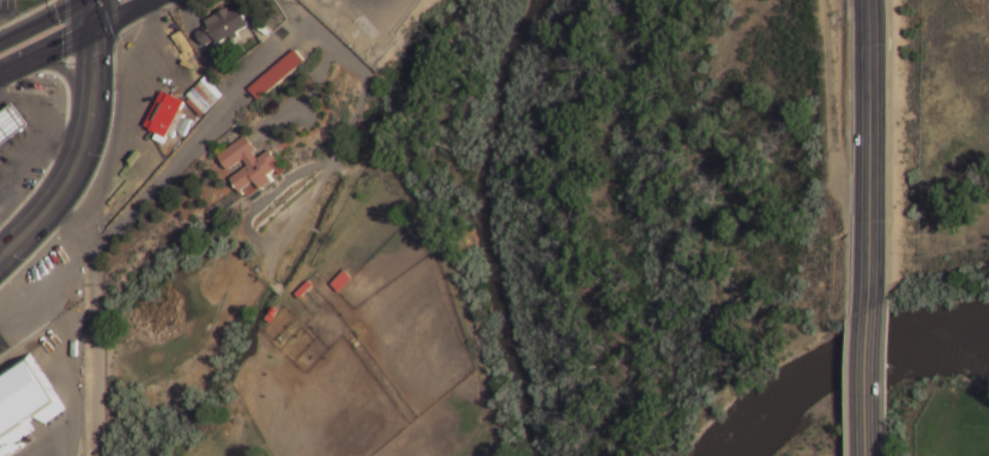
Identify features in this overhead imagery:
building: (286, 0)
road: (37, 18)
road: (90, 18)
road: (121, 18)
building: (924, 22)
building: (222, 26)
road: (198, 48)
road: (45, 55)
road: (64, 72)
building: (202, 97)
road: (304, 100)
road: (826, 110)
building: (163, 114)
building: (8, 119)
road: (199, 136)
road: (211, 139)
road: (335, 153)
road: (869, 156)
road: (77, 160)
building: (249, 165)
road: (265, 200)
river: (487, 225)
road: (887, 227)
road: (103, 233)
road: (452, 274)
building: (340, 281)
building: (303, 290)
road: (95, 321)
river: (843, 363)
road: (867, 384)
building: (25, 403)
crop: (954, 423)
park: (818, 430)

